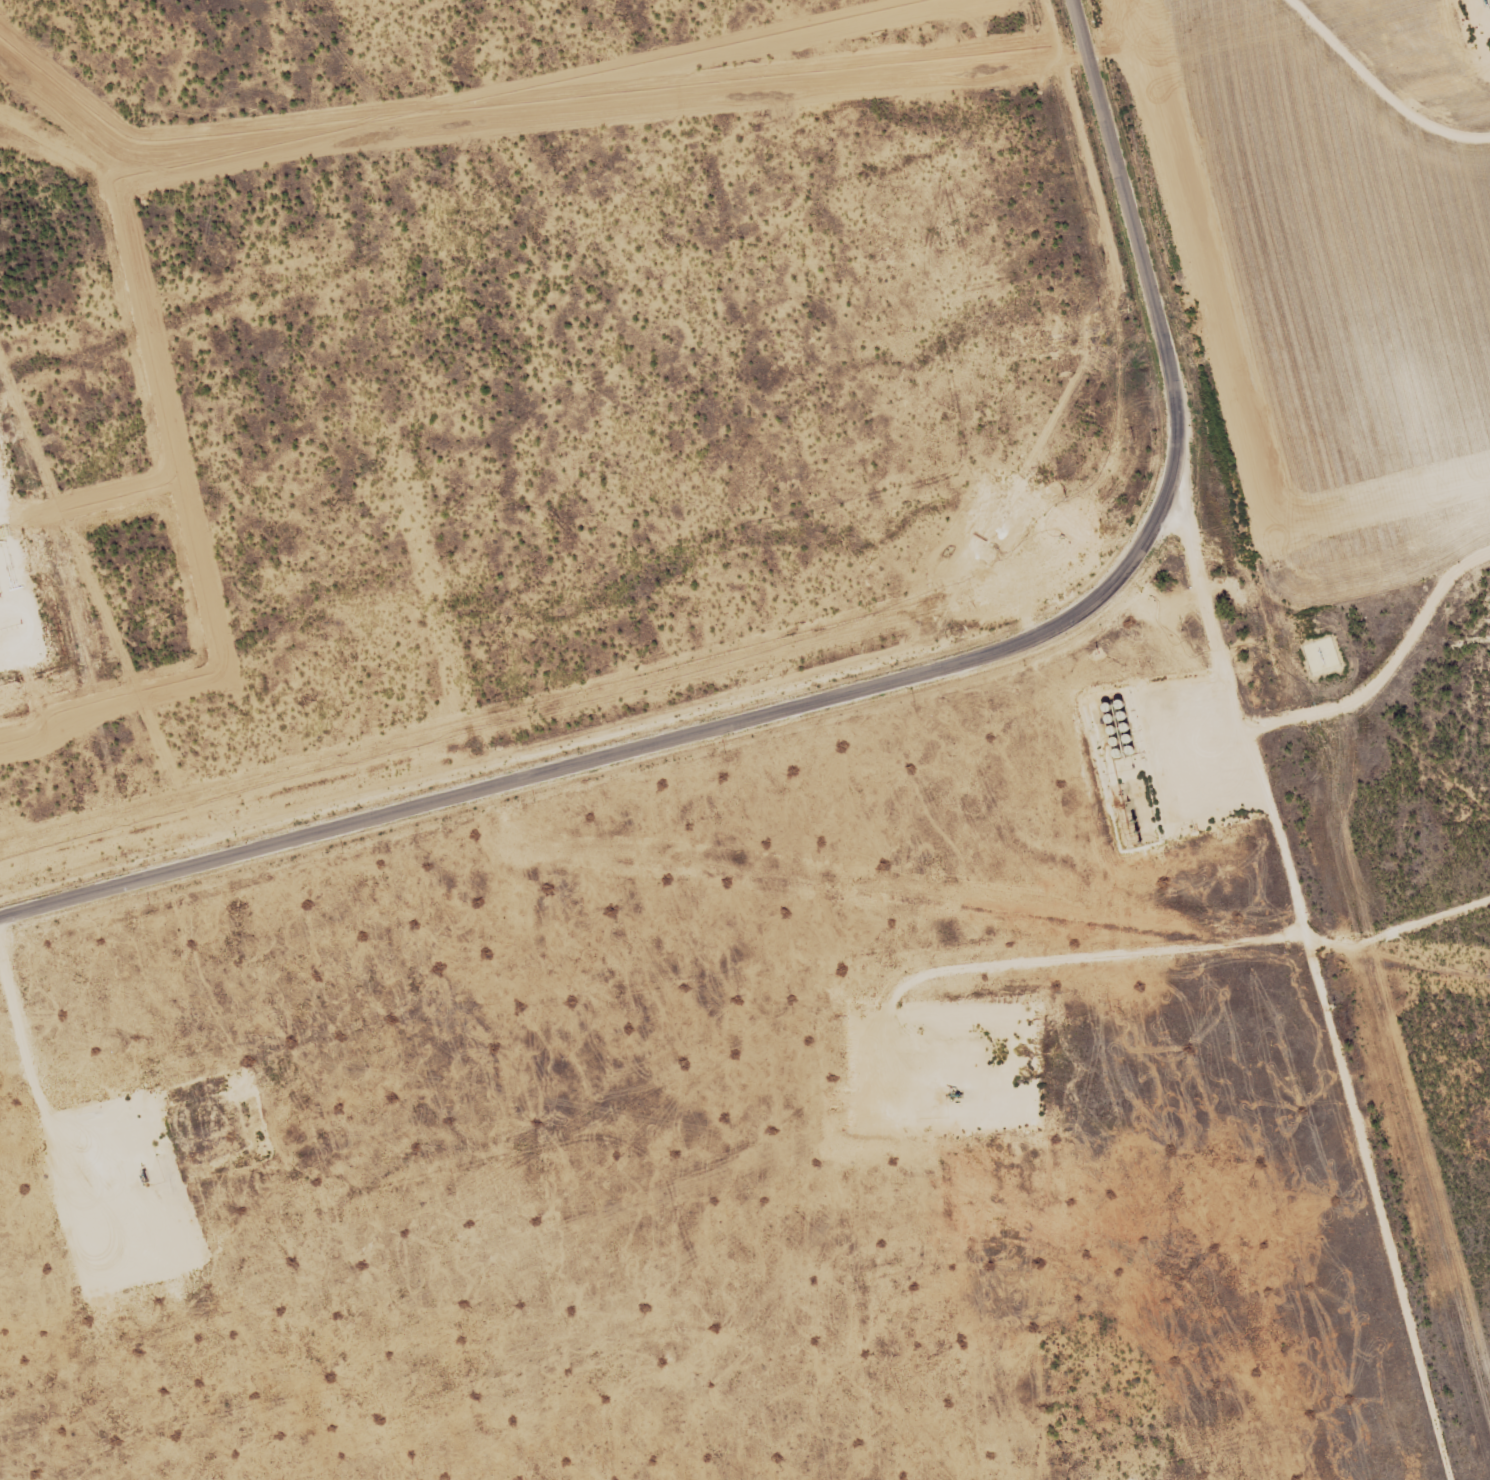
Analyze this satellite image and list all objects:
road: (1128, 271)
road: (603, 777)

